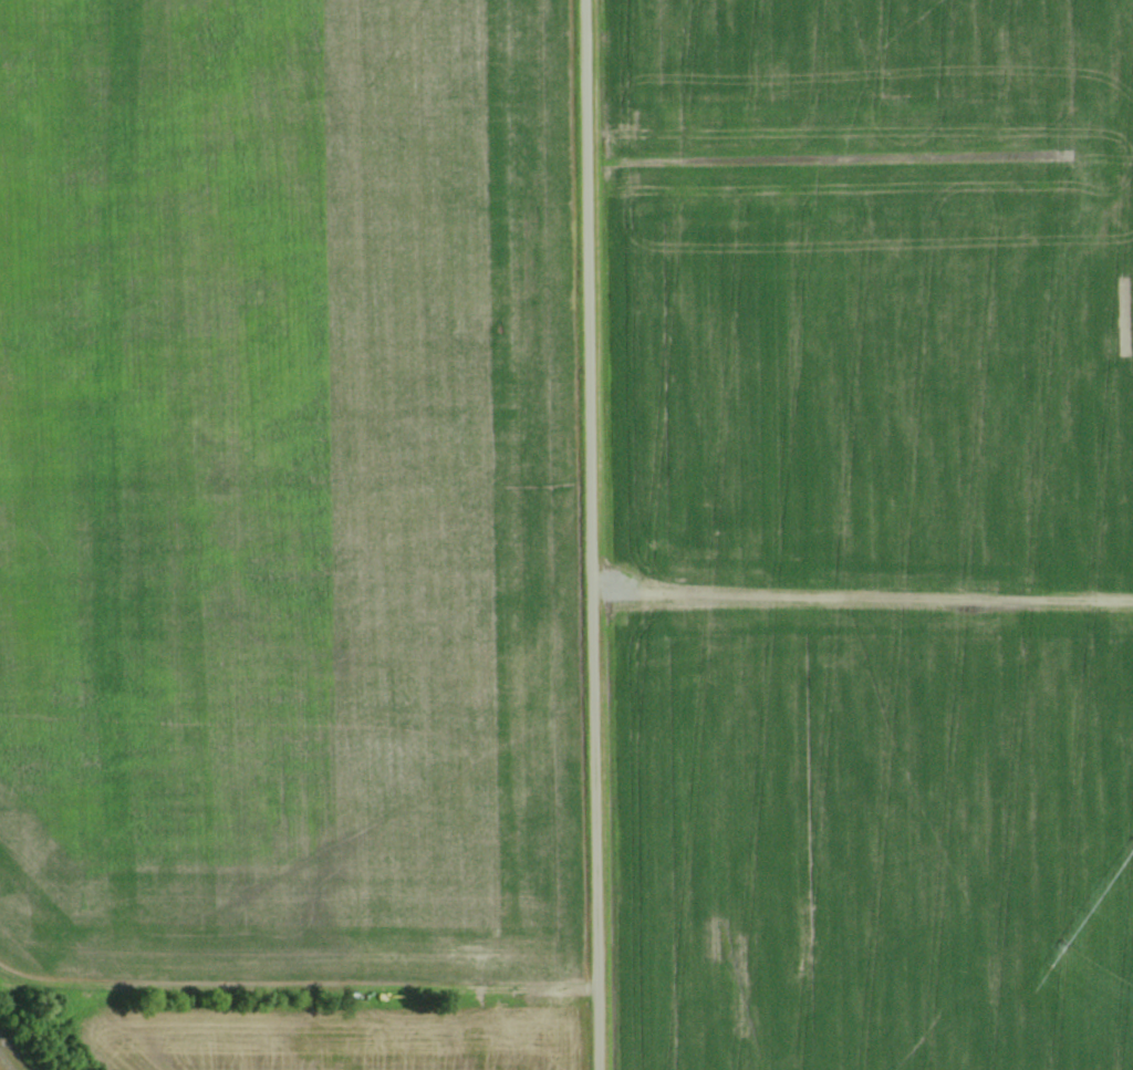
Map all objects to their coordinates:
road: (594, 534)
road: (863, 602)

